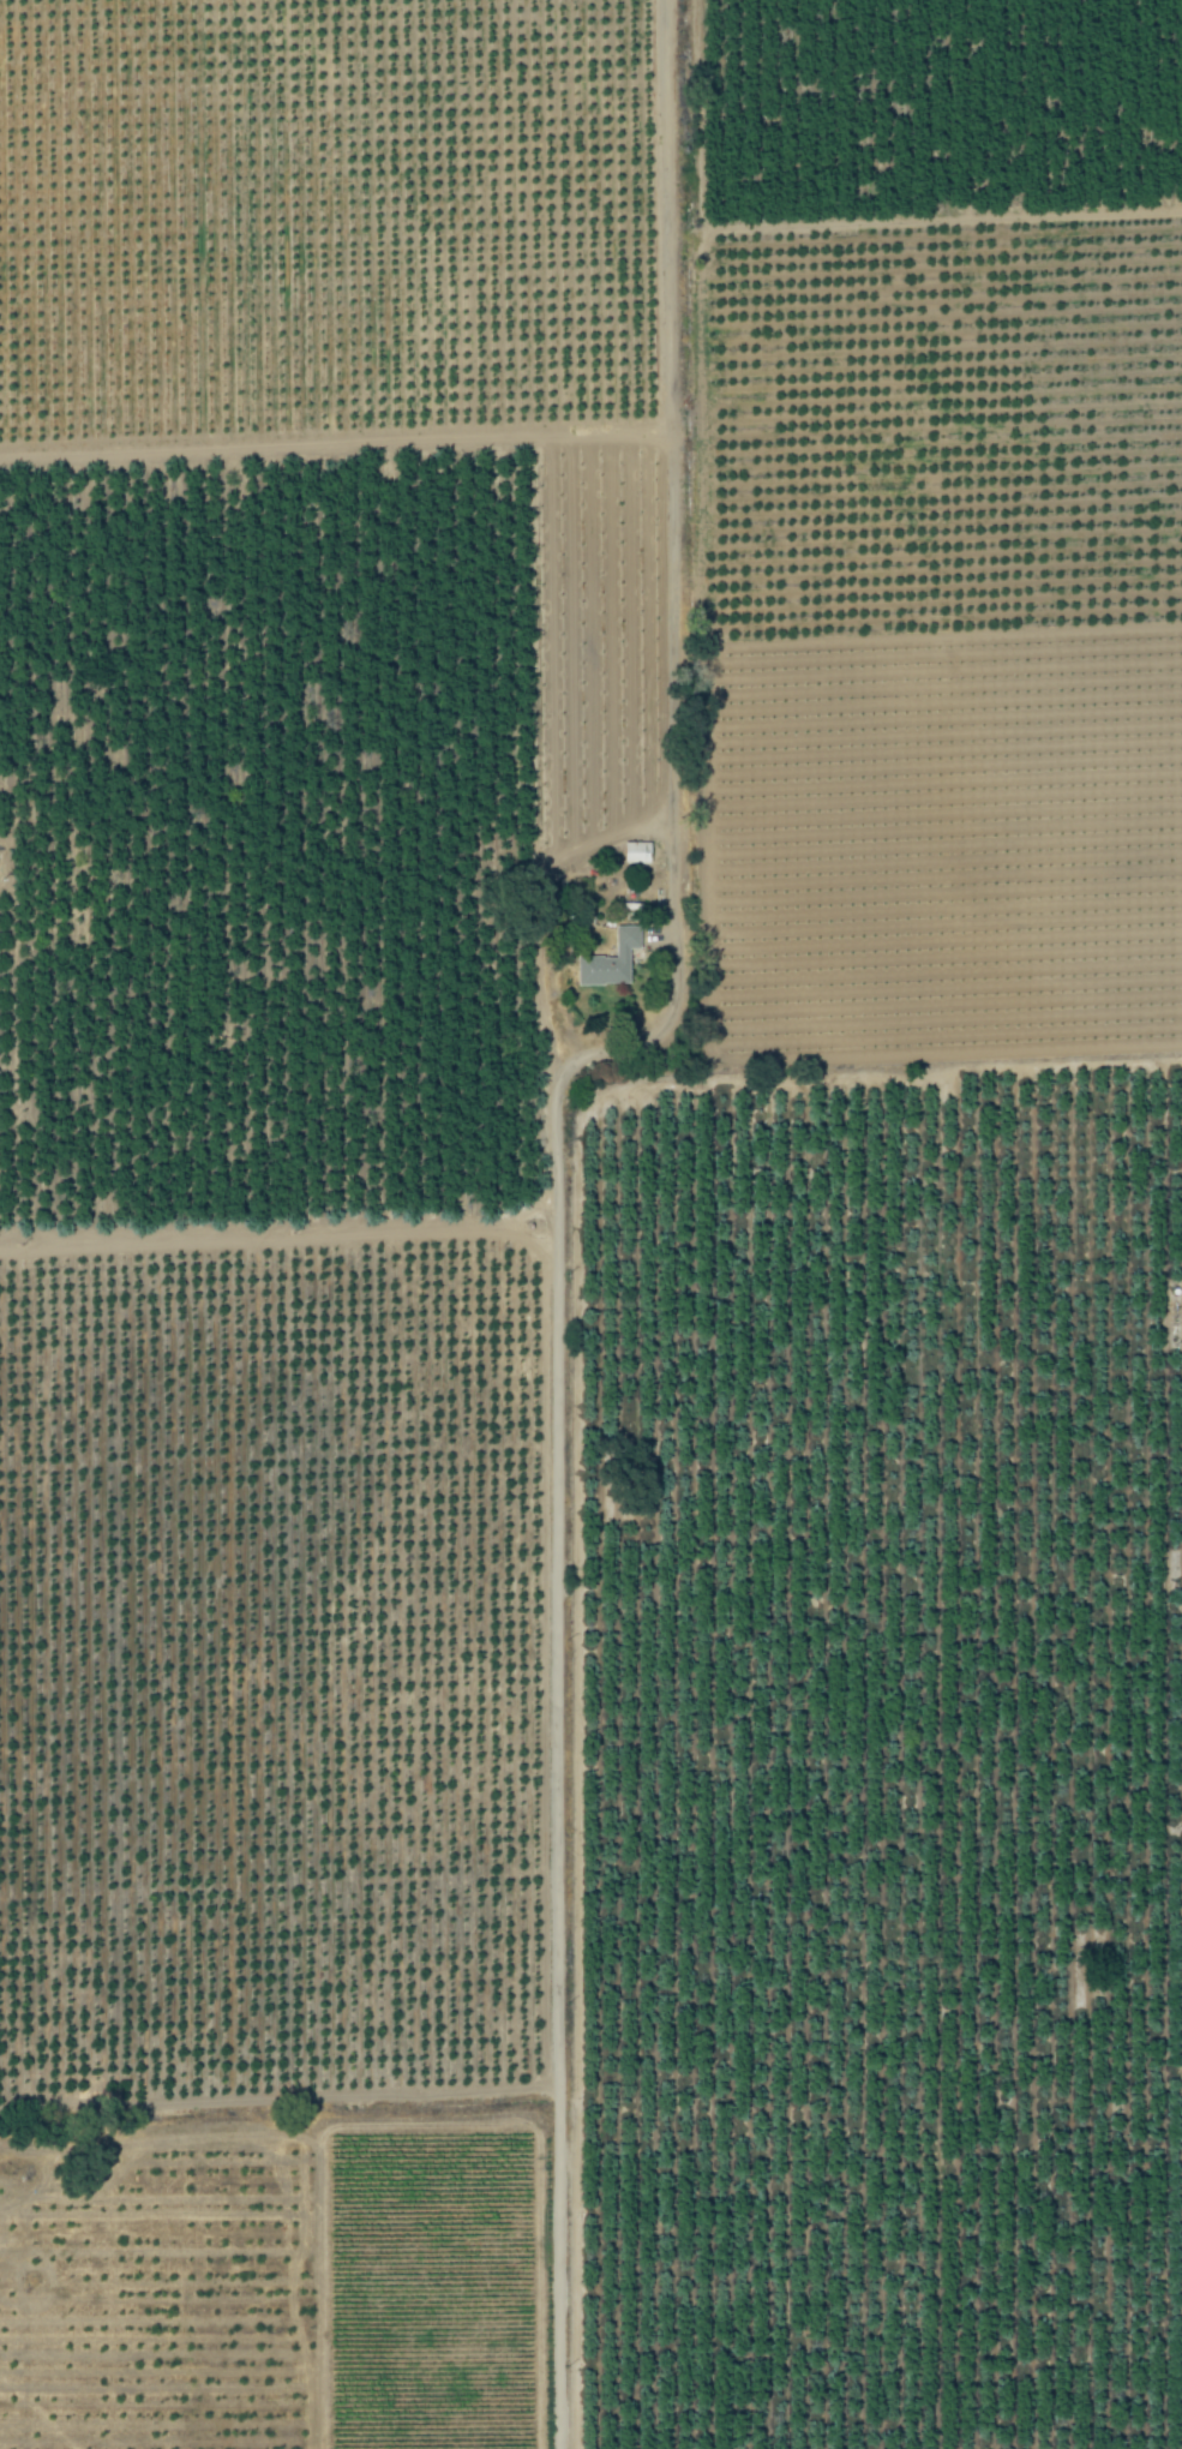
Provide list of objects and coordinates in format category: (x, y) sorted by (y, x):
building: (611, 960)
road: (557, 1190)
road: (286, 1237)

